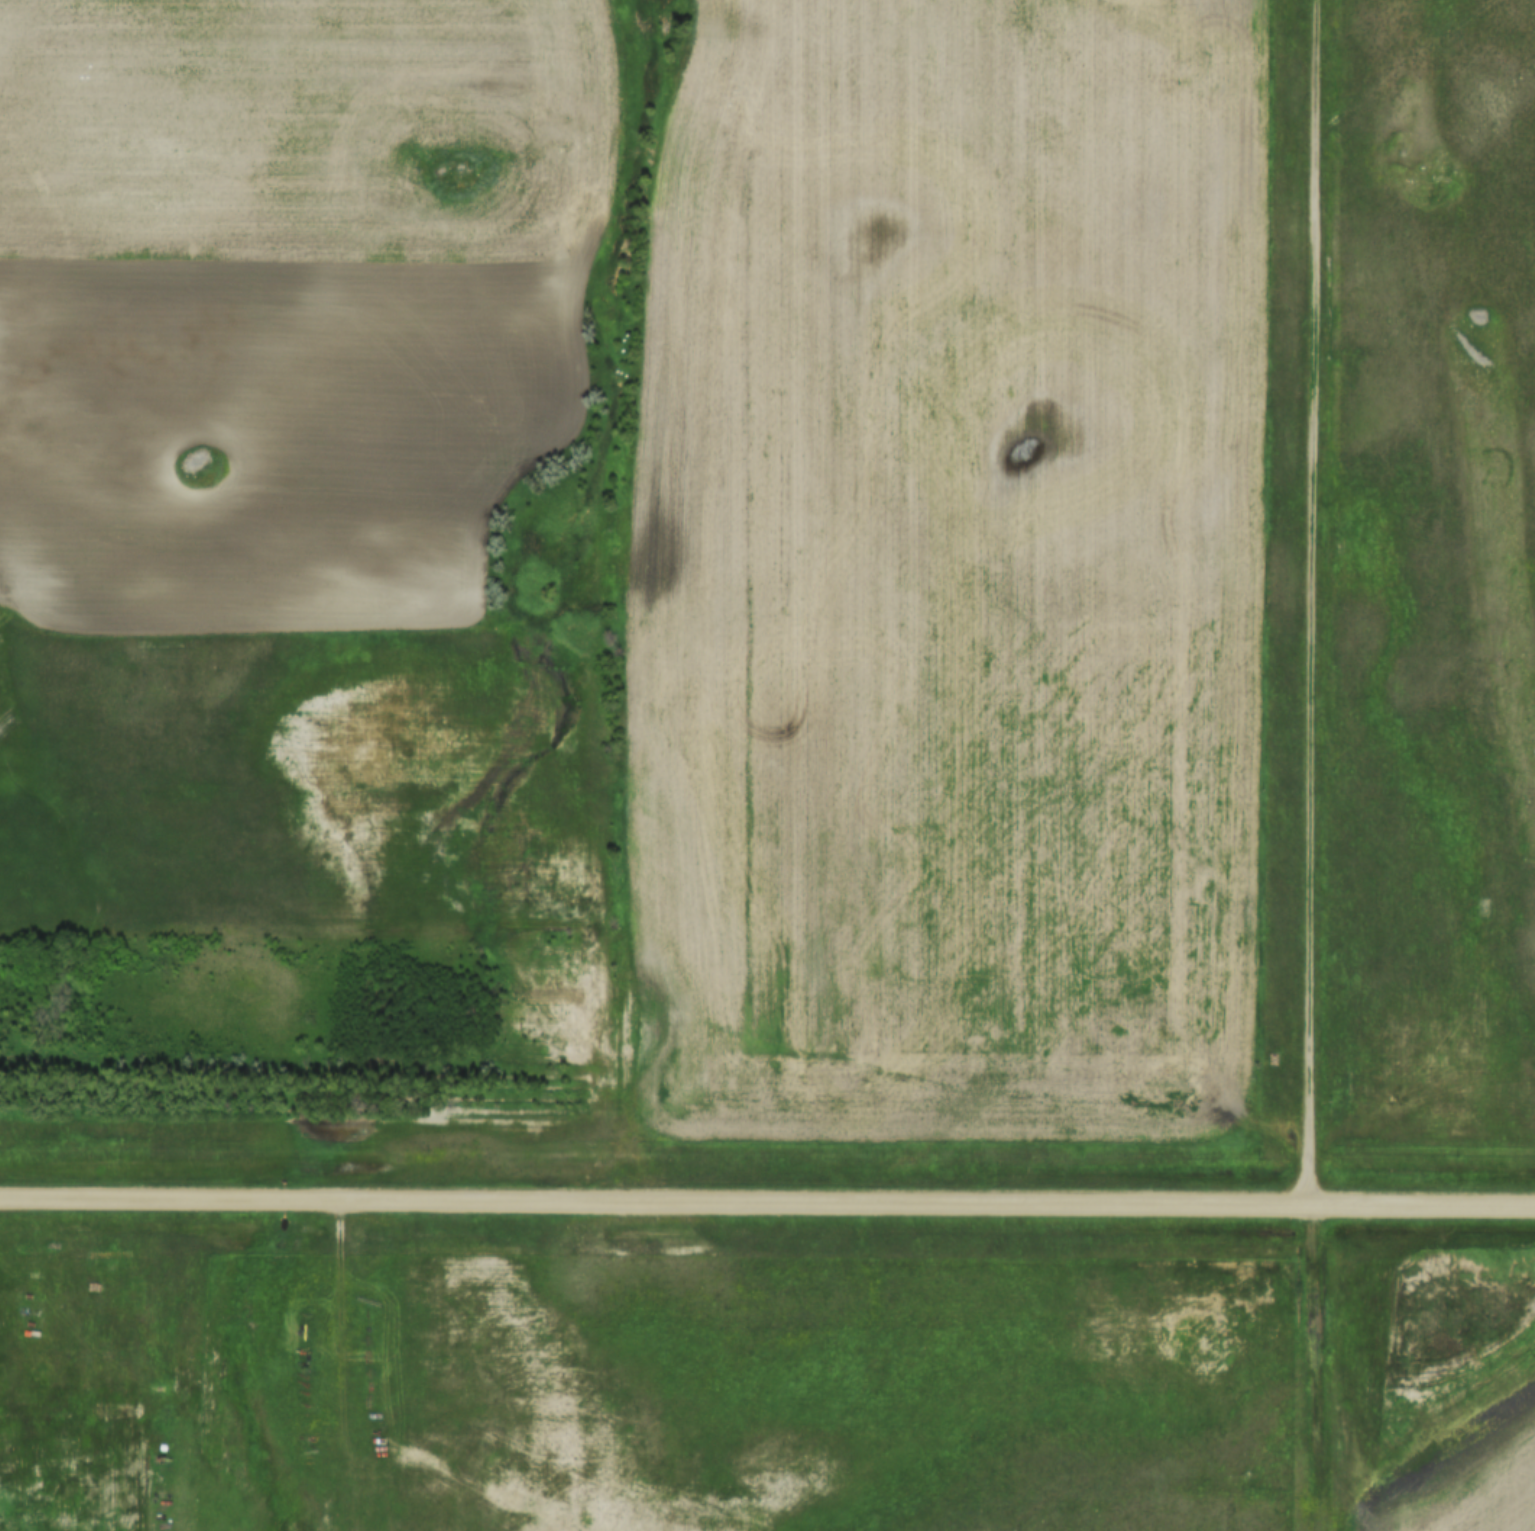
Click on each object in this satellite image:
road: (1311, 605)
road: (767, 1207)

